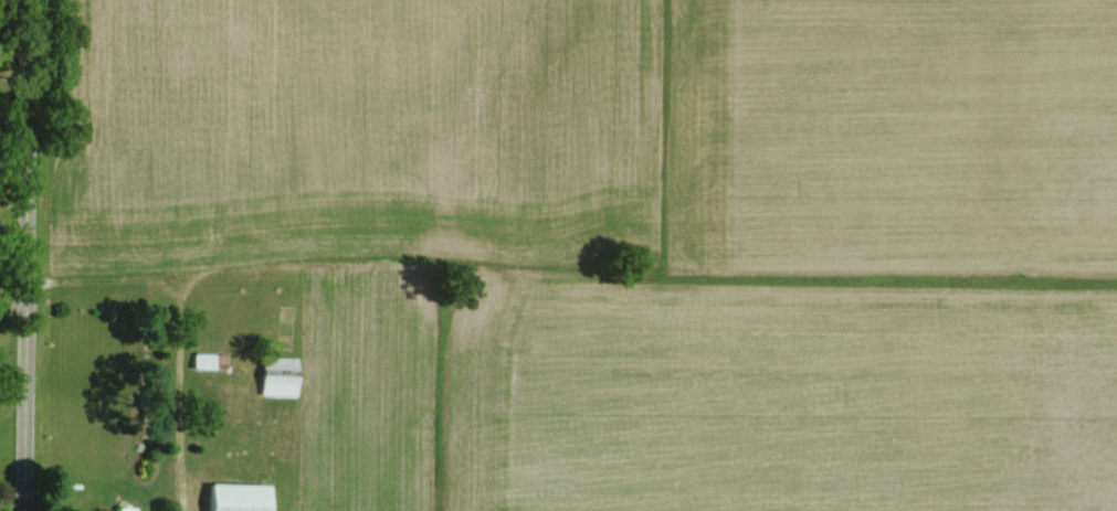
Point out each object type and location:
road: (28, 255)
building: (204, 360)
building: (280, 384)
building: (243, 497)

